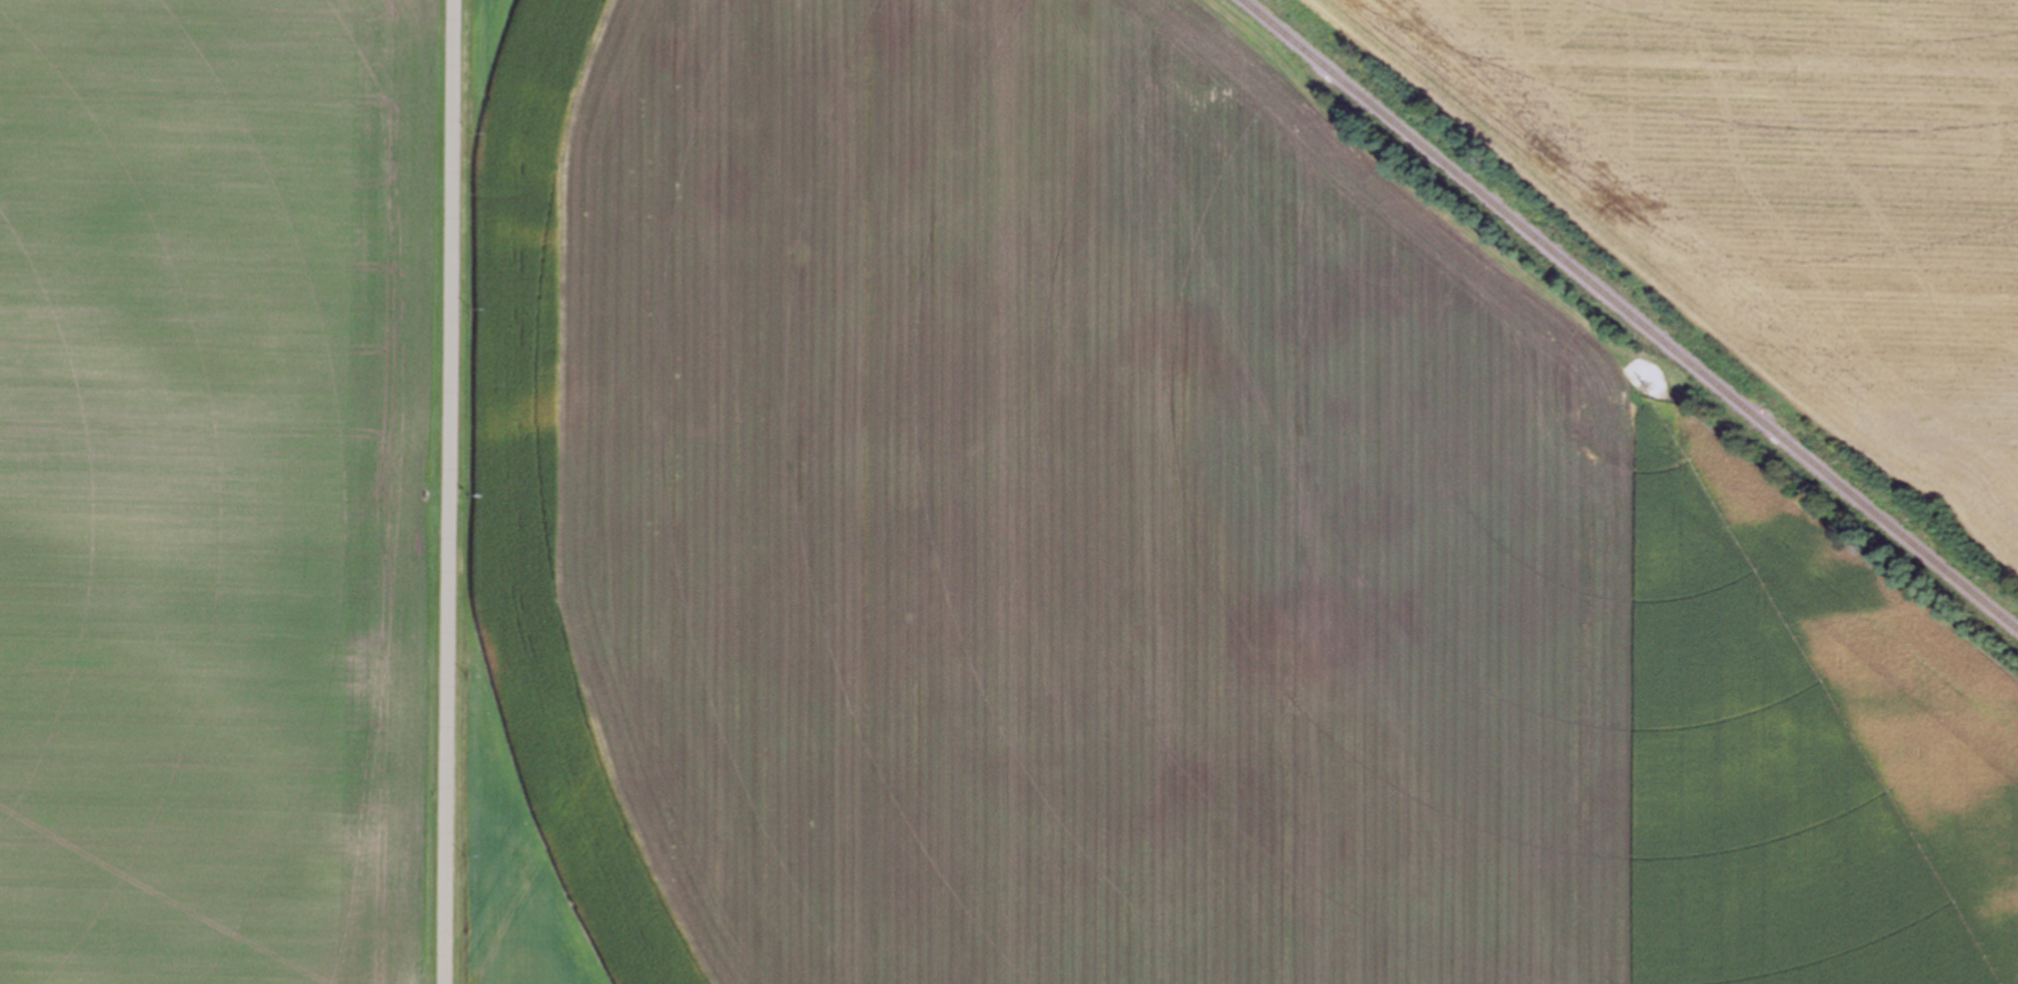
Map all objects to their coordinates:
railway: (1630, 315)
road: (448, 492)

